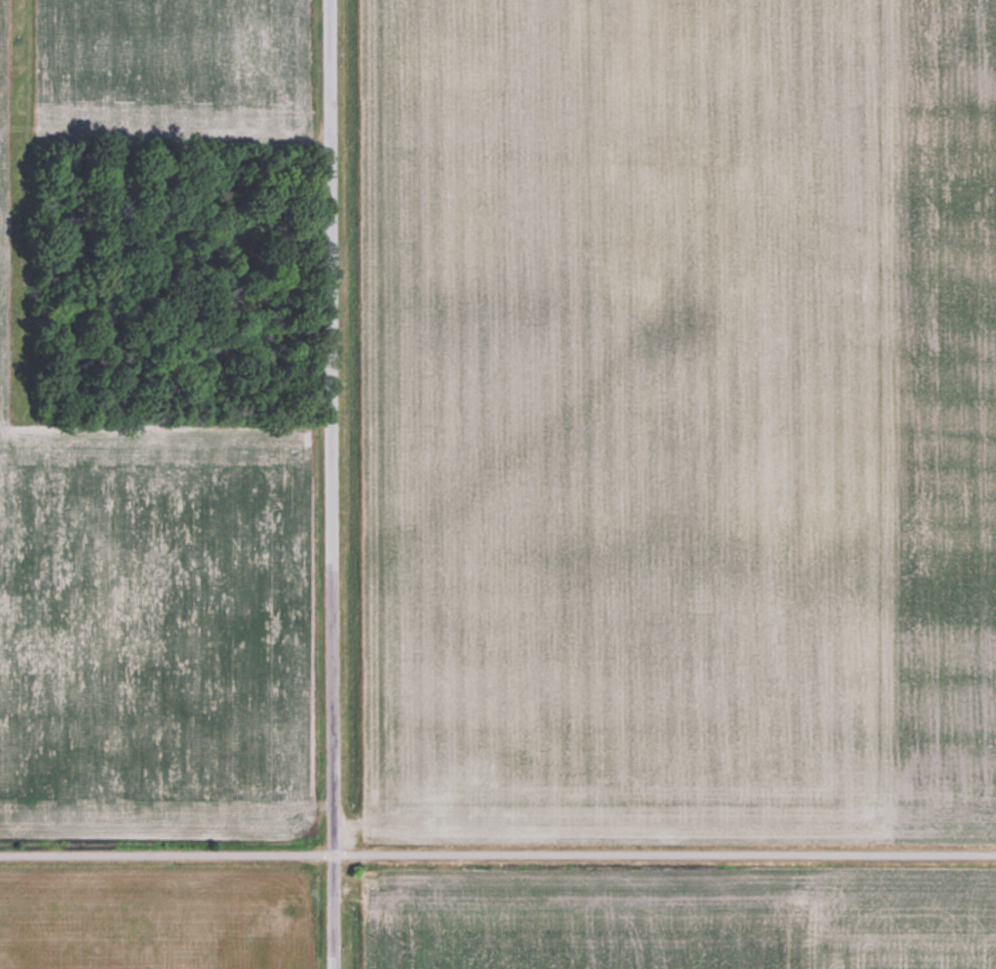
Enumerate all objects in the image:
road: (331, 427)
road: (664, 854)
road: (166, 855)
road: (333, 912)

